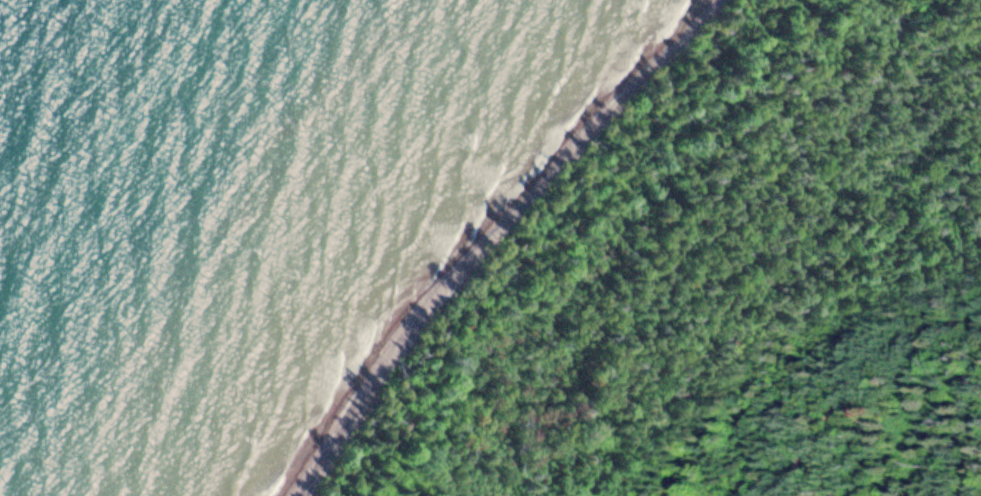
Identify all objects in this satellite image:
road: (858, 380)

